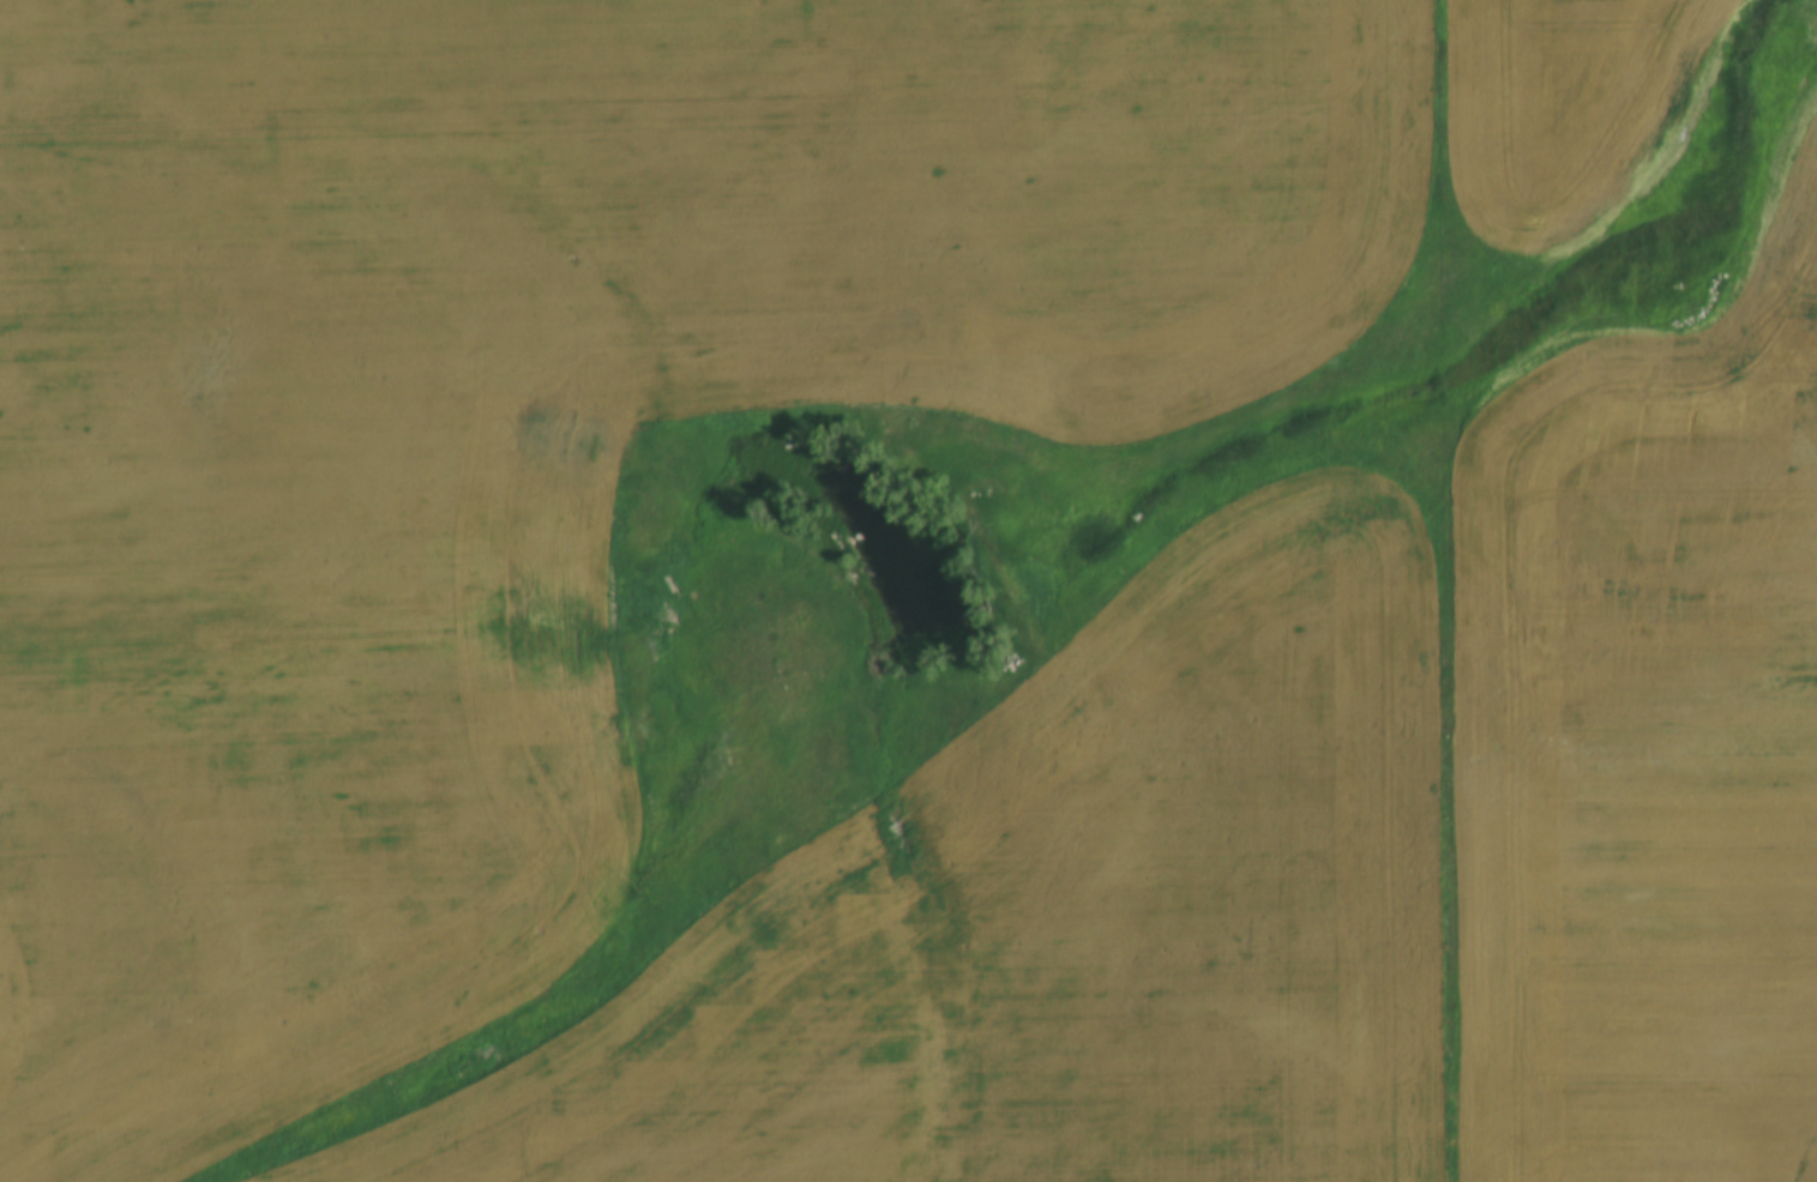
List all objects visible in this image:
road: (1466, 591)

